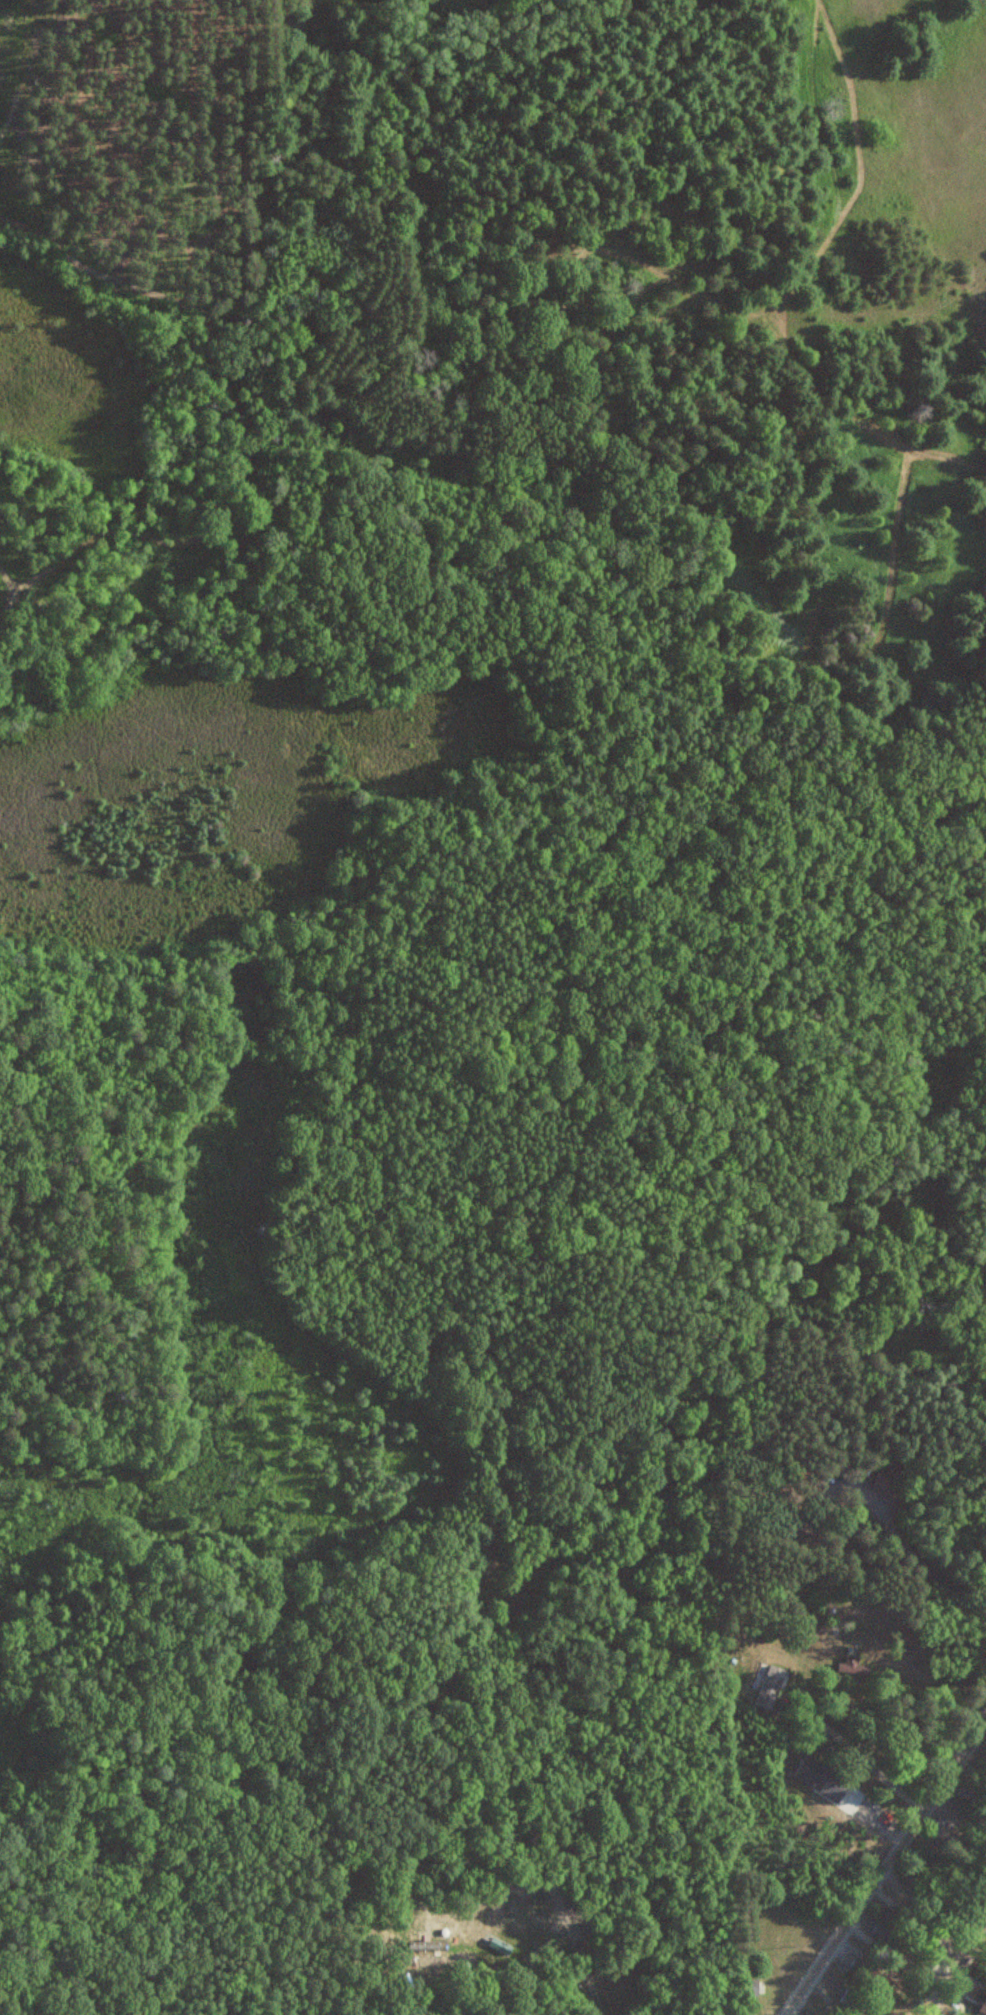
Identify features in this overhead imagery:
building: (888, 1484)
building: (854, 1666)
building: (772, 1687)
building: (823, 1779)
road: (884, 1870)
road: (933, 1910)
building: (976, 1917)
building: (892, 1933)
road: (915, 1959)
building: (748, 1986)
building: (854, 1997)
building: (888, 2011)

